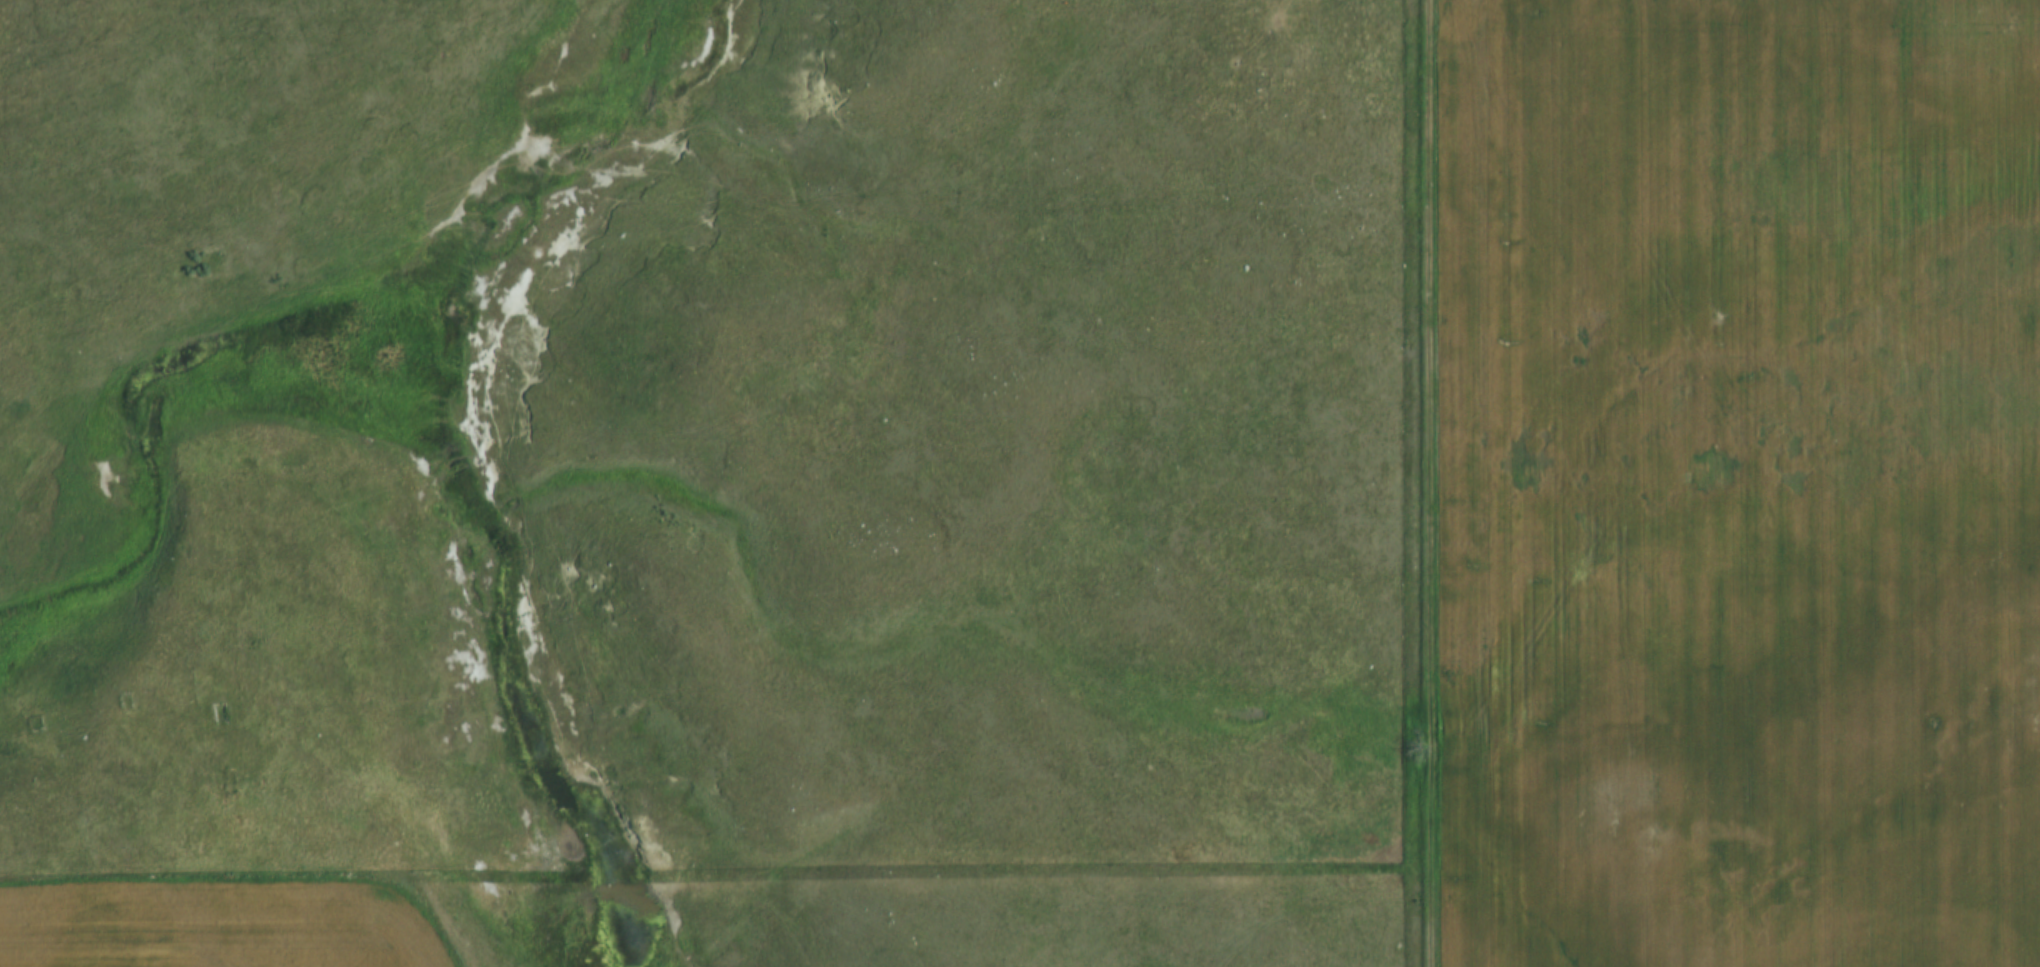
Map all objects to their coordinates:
road: (1435, 483)

